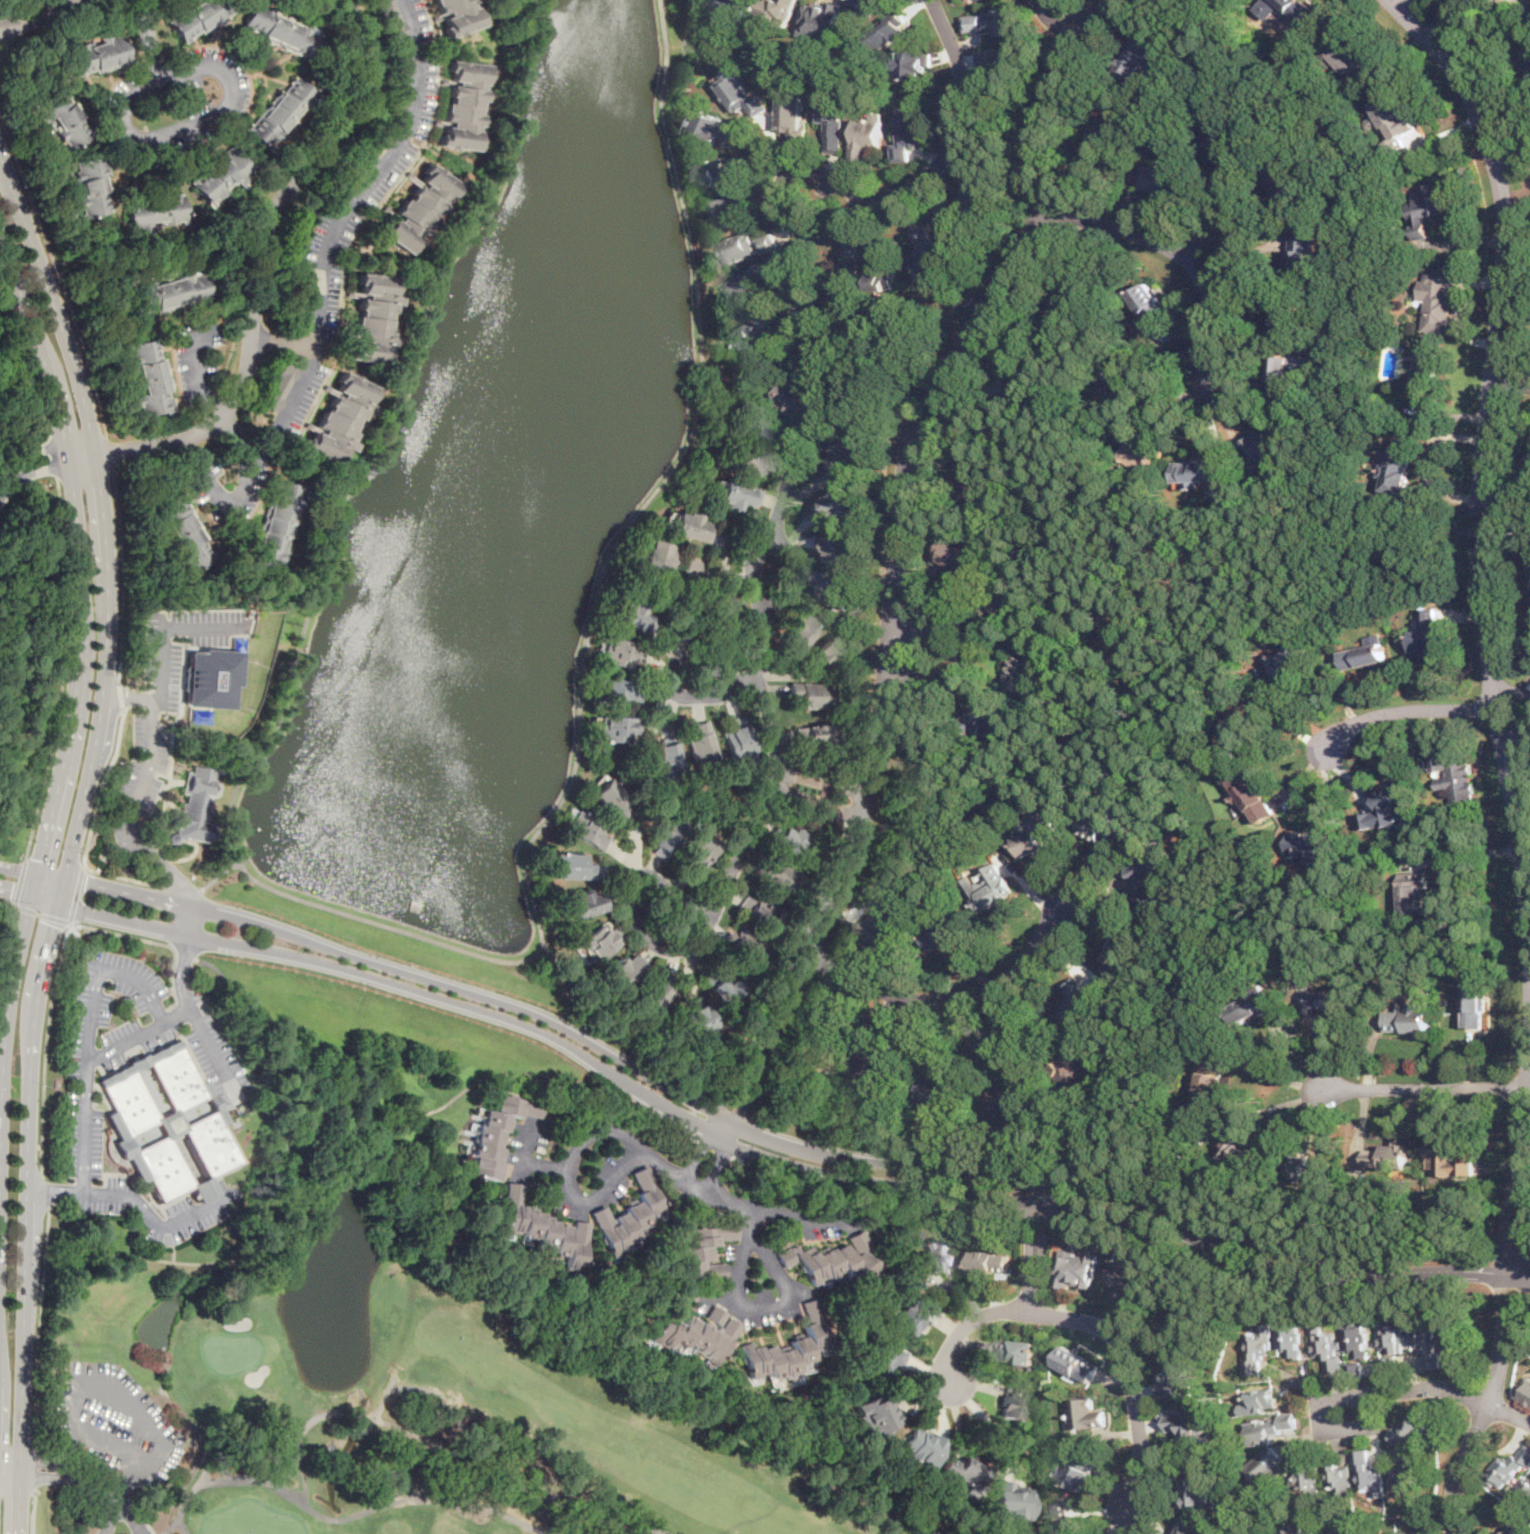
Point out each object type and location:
building: (1529, 0)
road: (1074, 1)
road: (1401, 3)
building: (867, 4)
building: (733, 7)
building: (1297, 8)
building: (778, 9)
road: (27, 11)
road: (1065, 14)
building: (457, 16)
building: (820, 17)
building: (197, 18)
building: (392, 18)
road: (1067, 19)
building: (993, 21)
road: (1441, 22)
building: (281, 29)
building: (889, 30)
road: (148, 41)
building: (99, 54)
building: (1145, 56)
building: (1350, 56)
building: (997, 57)
building: (1525, 57)
building: (914, 65)
building: (399, 92)
building: (740, 93)
building: (463, 107)
building: (284, 111)
building: (793, 112)
building: (63, 117)
building: (1393, 120)
building: (834, 121)
road: (189, 124)
road: (959, 126)
building: (717, 127)
road: (1509, 132)
building: (909, 133)
building: (867, 137)
building: (1103, 137)
building: (1226, 138)
road: (427, 147)
building: (371, 149)
road: (1423, 155)
building: (725, 169)
building: (1163, 176)
building: (221, 178)
building: (977, 183)
building: (1284, 183)
building: (91, 186)
road: (781, 201)
building: (1425, 207)
road: (352, 208)
building: (730, 208)
building: (419, 210)
building: (154, 213)
building: (953, 226)
road: (1241, 238)
building: (767, 239)
building: (737, 248)
building: (924, 251)
building: (1300, 251)
road: (1175, 252)
building: (884, 267)
road: (256, 272)
road: (56, 274)
road: (786, 276)
building: (845, 283)
building: (743, 289)
building: (169, 292)
building: (1436, 296)
building: (302, 302)
building: (1150, 302)
building: (806, 304)
building: (1064, 304)
building: (1286, 317)
building: (372, 319)
building: (750, 340)
road: (283, 342)
road: (27, 359)
building: (1114, 370)
building: (1423, 370)
road: (197, 372)
building: (1280, 375)
building: (150, 378)
building: (1021, 378)
road: (1509, 382)
building: (279, 390)
road: (906, 390)
building: (801, 400)
building: (339, 419)
building: (754, 421)
building: (1263, 441)
building: (853, 451)
road: (1338, 451)
road: (31, 452)
road: (109, 452)
building: (1526, 452)
building: (1140, 454)
road: (52, 458)
building: (748, 460)
building: (1397, 465)
building: (1198, 470)
road: (38, 471)
building: (1262, 472)
road: (247, 478)
building: (968, 480)
road: (4, 484)
building: (735, 496)
building: (843, 502)
building: (689, 526)
building: (276, 527)
road: (1504, 530)
building: (186, 531)
road: (1406, 541)
building: (840, 547)
building: (658, 555)
building: (956, 559)
building: (688, 566)
road: (123, 572)
road: (753, 572)
road: (897, 587)
building: (835, 589)
building: (1003, 600)
building: (723, 609)
building: (630, 615)
road: (1486, 622)
building: (799, 630)
building: (1425, 635)
road: (950, 644)
building: (666, 645)
building: (1364, 652)
building: (617, 653)
building: (825, 654)
building: (1288, 660)
building: (1022, 664)
road: (671, 666)
road: (63, 670)
road: (758, 677)
building: (210, 679)
road: (1511, 687)
building: (617, 692)
road: (129, 694)
road: (116, 695)
building: (808, 695)
road: (1402, 708)
road: (71, 712)
building: (986, 715)
building: (1239, 720)
building: (616, 729)
building: (811, 735)
road: (1515, 735)
building: (738, 742)
road: (1042, 743)
building: (701, 744)
building: (667, 759)
road: (1100, 765)
building: (925, 775)
building: (1454, 775)
road: (141, 781)
road: (100, 788)
road: (818, 792)
building: (1251, 796)
building: (612, 801)
road: (850, 802)
building: (194, 808)
building: (1384, 808)
road: (15, 827)
building: (1102, 830)
building: (587, 831)
building: (1036, 833)
building: (665, 835)
road: (72, 836)
building: (793, 842)
building: (1309, 848)
building: (697, 852)
road: (1459, 854)
traffic signals: (39, 860)
road: (1207, 865)
building: (571, 867)
road: (17, 872)
building: (779, 875)
road: (219, 876)
road: (49, 877)
road: (119, 877)
road: (173, 877)
traffic signals: (83, 881)
road: (20, 883)
building: (1143, 883)
building: (991, 886)
road: (178, 889)
traffic signals: (12, 890)
road: (15, 891)
road: (125, 891)
road: (75, 894)
building: (1412, 894)
road: (43, 899)
road: (7, 902)
building: (586, 904)
road: (628, 905)
building: (757, 910)
road: (41, 914)
traffic signals: (52, 925)
building: (877, 929)
building: (943, 932)
road: (1528, 933)
road: (6, 935)
road: (422, 938)
building: (598, 941)
road: (85, 947)
building: (741, 951)
building: (1118, 952)
road: (184, 956)
road: (59, 957)
road: (183, 958)
road: (780, 968)
building: (625, 970)
building: (691, 970)
building: (720, 988)
building: (655, 996)
road: (947, 998)
building: (1328, 998)
building: (1076, 999)
building: (1255, 1004)
building: (1473, 1005)
building: (699, 1019)
building: (1407, 1019)
road: (273, 1023)
road: (614, 1032)
road: (137, 1034)
road: (89, 1037)
road: (1136, 1039)
road: (1003, 1041)
road: (212, 1054)
building: (816, 1058)
building: (885, 1062)
building: (1072, 1069)
road: (1276, 1074)
road: (523, 1079)
building: (936, 1089)
building: (1207, 1089)
road: (1421, 1090)
road: (1525, 1090)
parking lot: (228, 1100)
building: (1006, 1104)
road: (692, 1117)
road: (304, 1122)
building: (164, 1123)
road: (335, 1128)
road: (607, 1131)
building: (494, 1134)
road: (702, 1144)
building: (1239, 1149)
building: (1385, 1155)
road: (840, 1156)
building: (1443, 1157)
road: (775, 1160)
building: (1309, 1167)
road: (276, 1191)
road: (42, 1192)
road: (602, 1195)
road: (134, 1201)
road: (48, 1208)
road: (776, 1212)
building: (633, 1215)
road: (1038, 1223)
building: (538, 1229)
road: (1115, 1229)
park: (112, 1234)
road: (172, 1252)
building: (699, 1254)
road: (146, 1257)
building: (936, 1257)
building: (832, 1262)
building: (991, 1262)
building: (1076, 1270)
road: (1031, 1279)
building: (1124, 1280)
building: (1143, 1290)
road: (777, 1307)
building: (912, 1316)
building: (1193, 1322)
road: (1098, 1326)
building: (696, 1334)
building: (1453, 1335)
building: (1287, 1336)
building: (1423, 1339)
building: (1389, 1344)
building: (1338, 1346)
building: (1256, 1348)
road: (35, 1349)
building: (787, 1350)
building: (1014, 1350)
building: (884, 1357)
building: (1077, 1363)
building: (1354, 1368)
building: (1178, 1376)
building: (1524, 1389)
road: (1350, 1396)
road: (119, 1400)
building: (1258, 1401)
building: (1010, 1404)
road: (1487, 1407)
park: (412, 1412)
building: (1086, 1414)
road: (1509, 1414)
building: (877, 1415)
building: (1187, 1425)
building: (1413, 1428)
building: (1266, 1429)
building: (923, 1446)
road: (10, 1456)
building: (1265, 1467)
building: (1507, 1468)
building: (1081, 1470)
building: (1406, 1470)
road: (35, 1472)
building: (964, 1473)
building: (1367, 1474)
road: (67, 1475)
road: (9, 1478)
building: (1308, 1480)
building: (1339, 1480)
building: (1198, 1486)
building: (1523, 1492)
road: (104, 1499)
building: (1012, 1502)
road: (32, 1512)
road: (130, 1517)
building: (1062, 1518)
building: (1188, 1527)
building: (1300, 1527)
building: (1348, 1529)
building: (1509, 1532)
building: (1260, 1533)
building: (1411, 1533)

